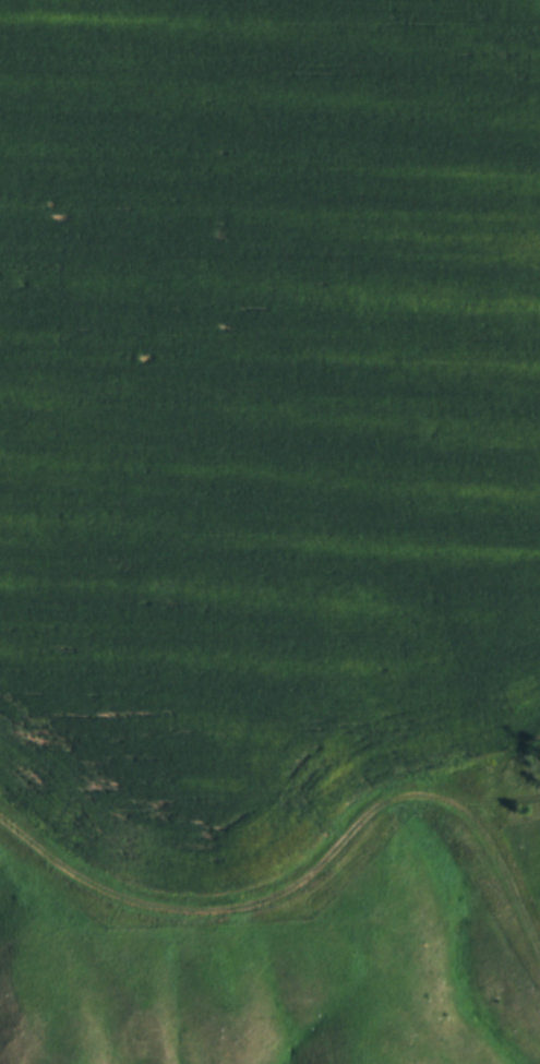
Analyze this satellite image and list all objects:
road: (310, 874)

